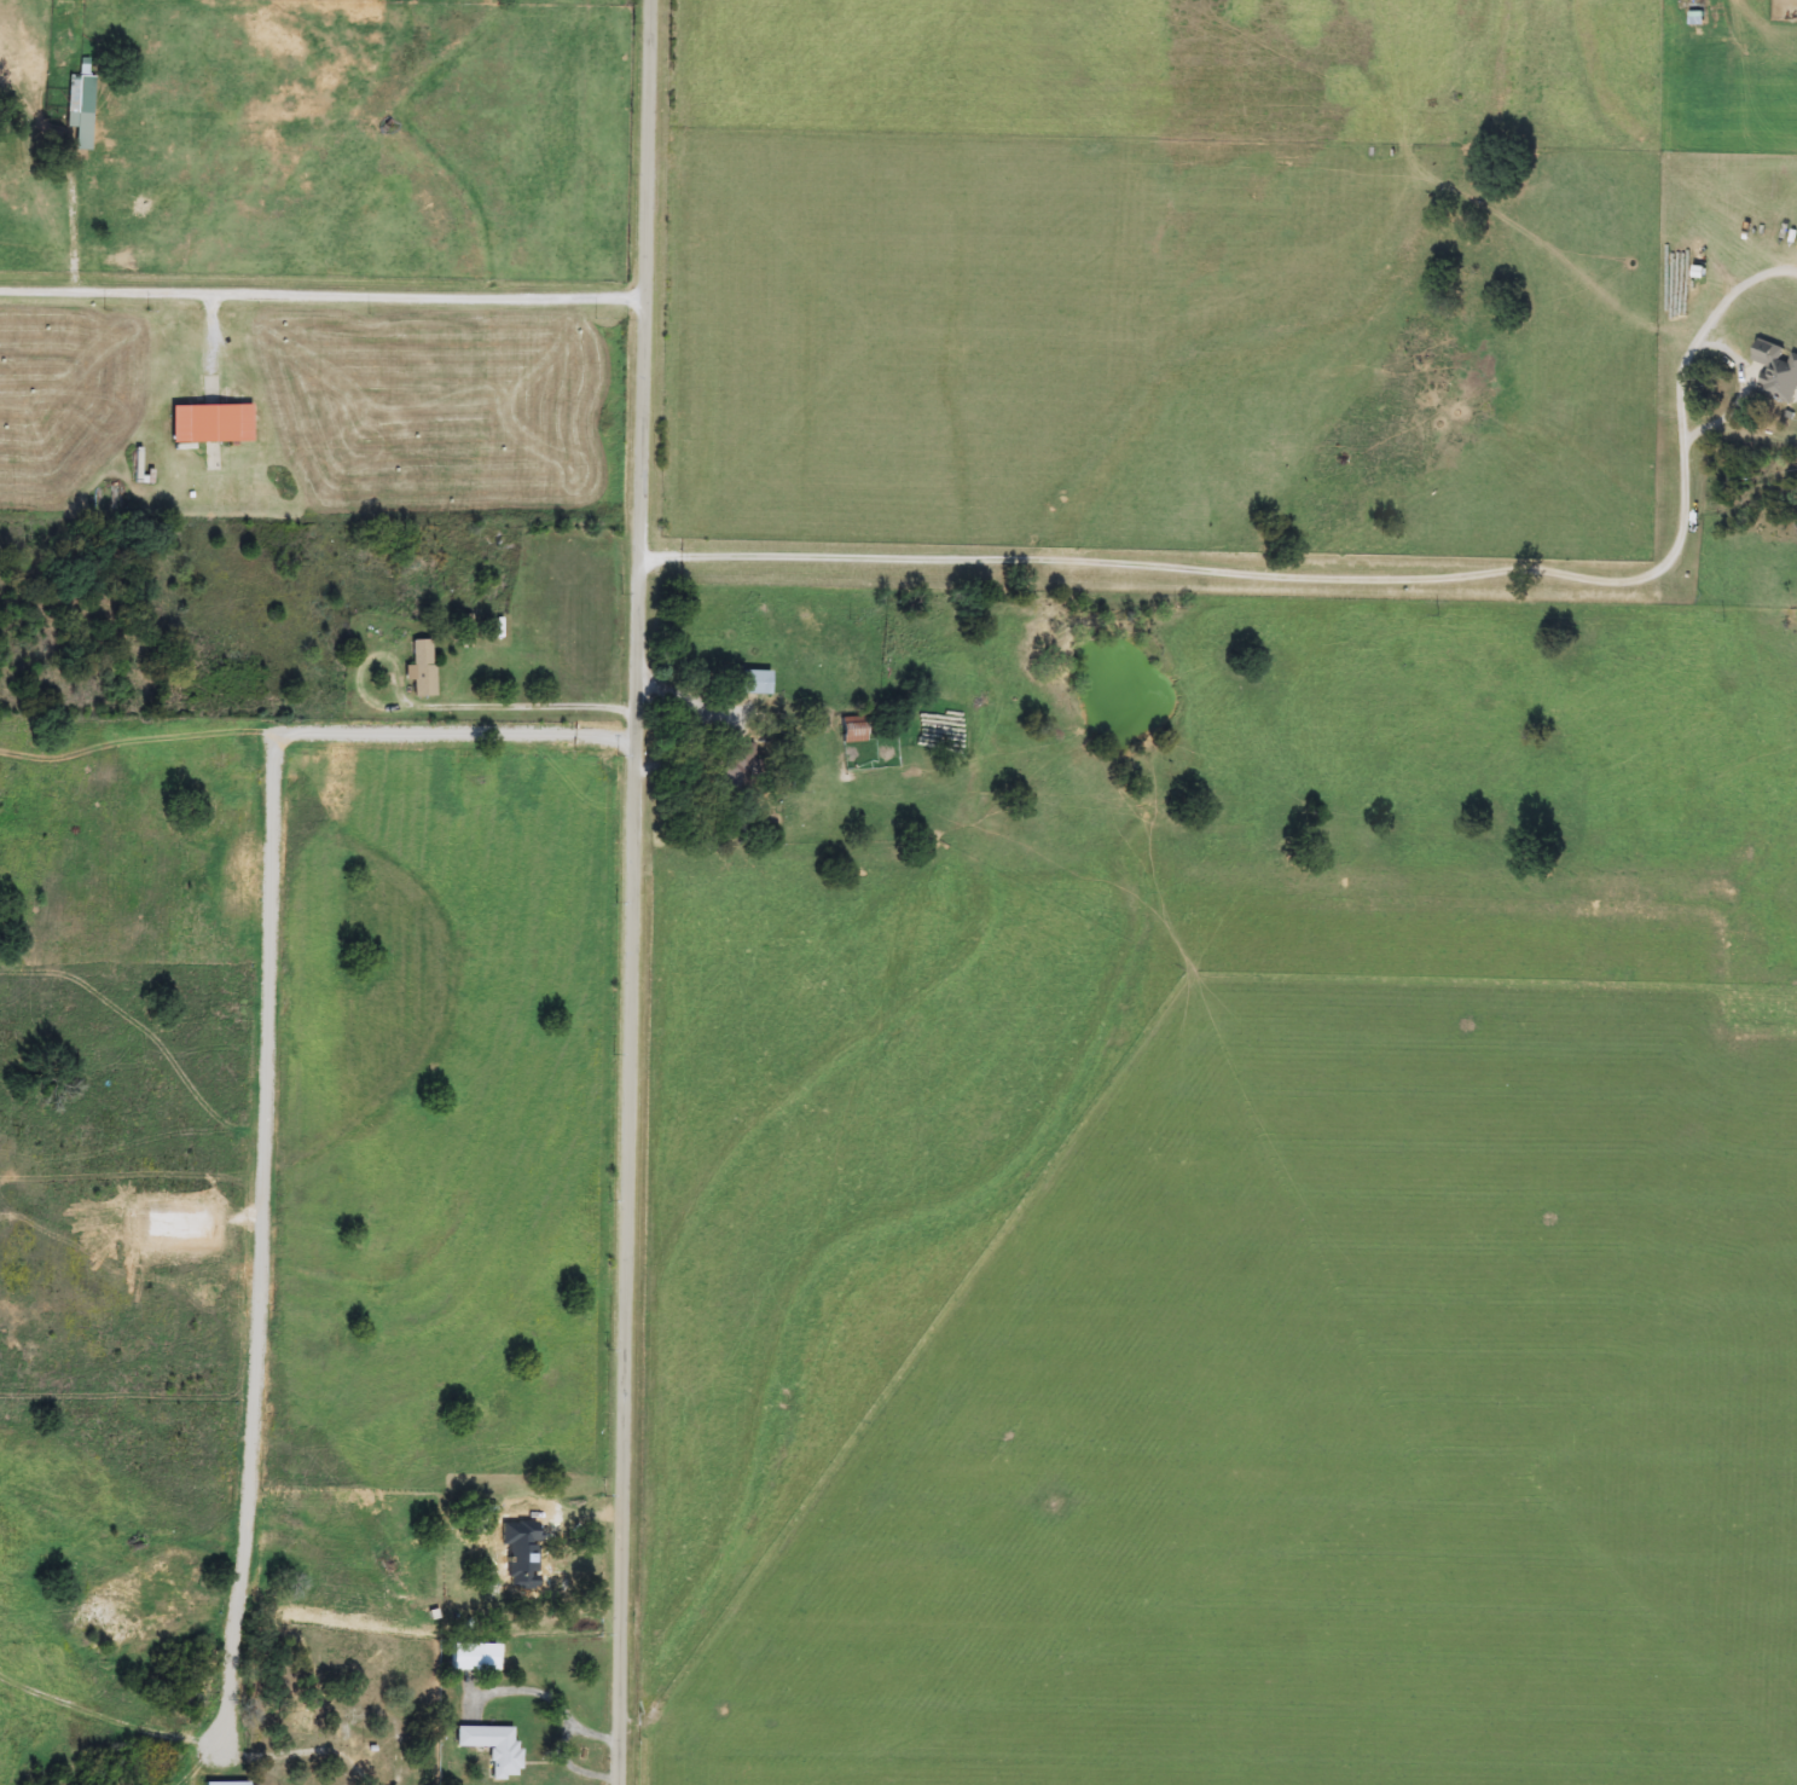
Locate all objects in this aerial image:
road: (324, 299)
building: (1778, 371)
building: (213, 424)
building: (422, 668)
building: (755, 683)
road: (539, 709)
building: (854, 730)
building: (741, 766)
road: (636, 892)
building: (468, 1658)
building: (301, 1723)
building: (493, 1748)
road: (326, 1751)
building: (227, 1784)

